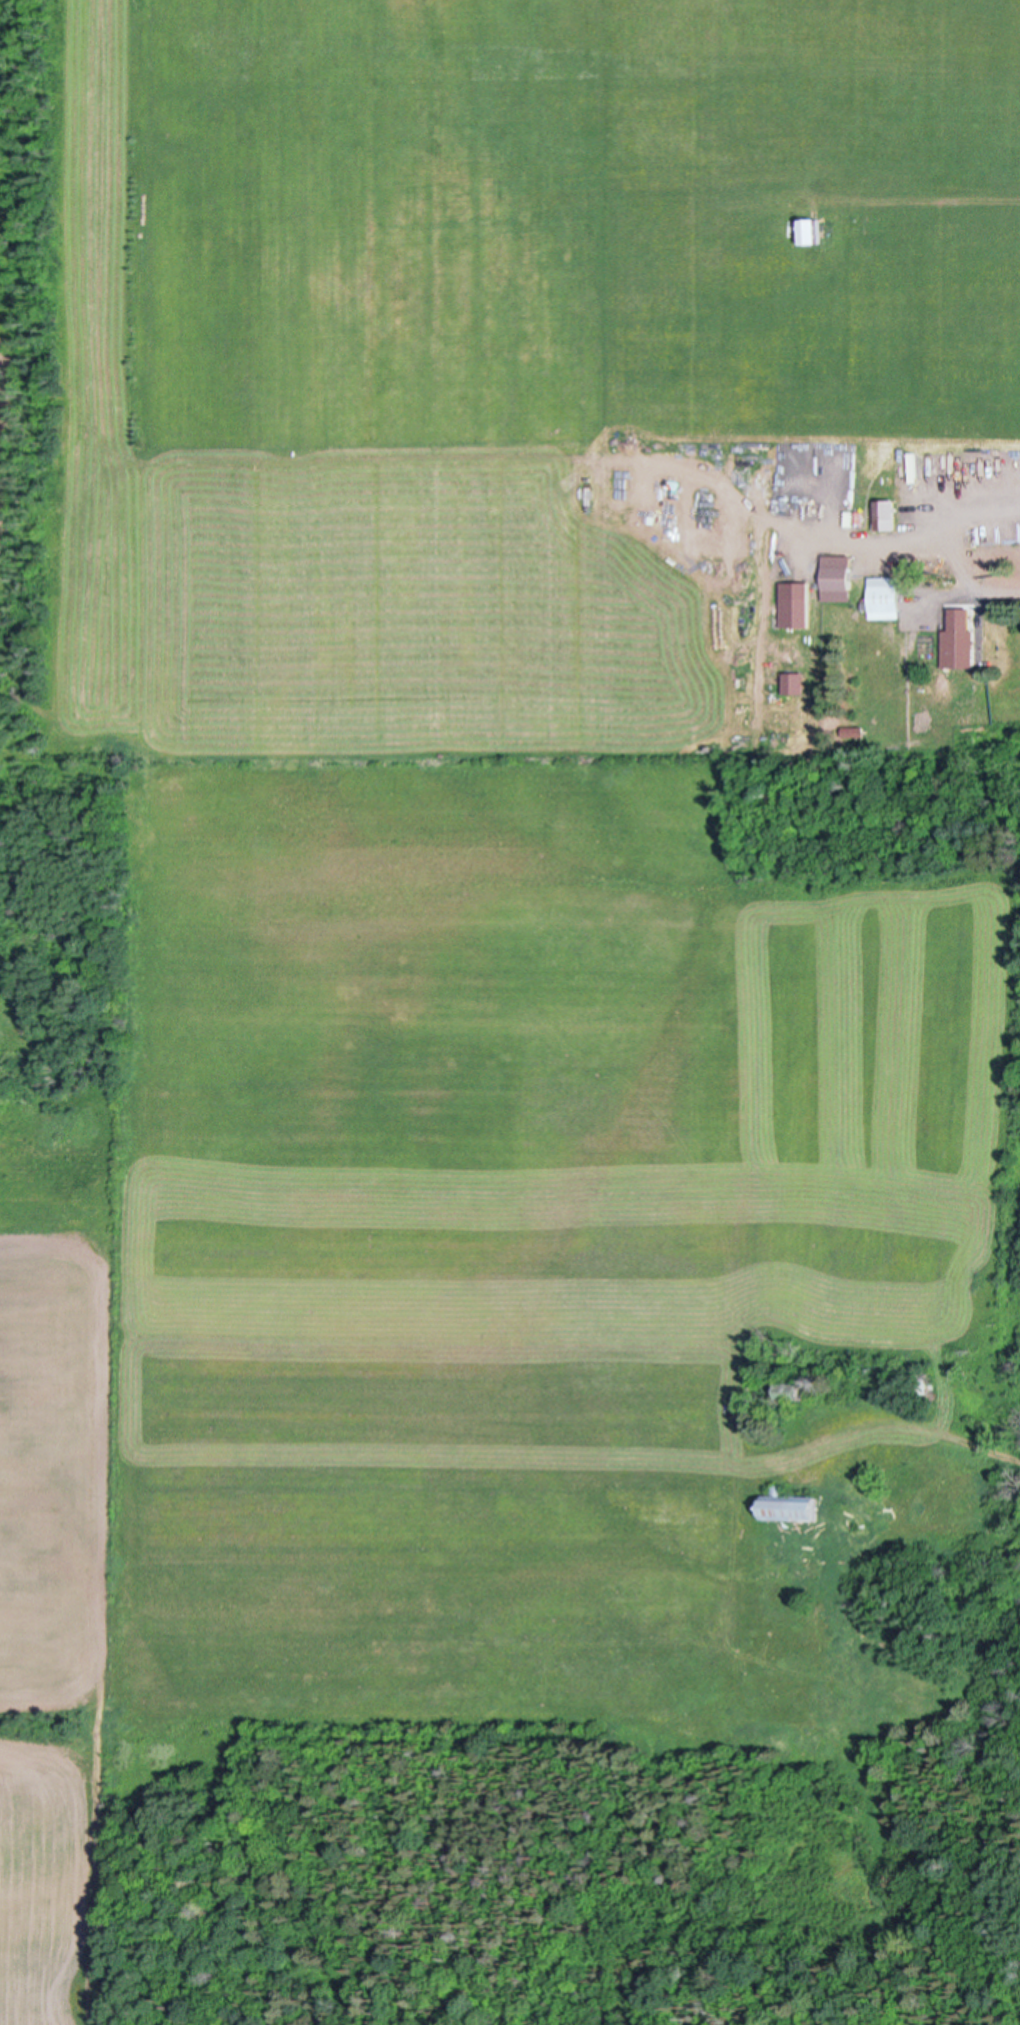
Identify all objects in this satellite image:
road: (929, 206)
building: (809, 228)
building: (884, 508)
road: (949, 552)
building: (836, 577)
building: (883, 596)
building: (794, 602)
building: (960, 647)
building: (794, 681)
building: (853, 729)
park: (59, 1369)
building: (844, 1381)
building: (918, 1384)
building: (790, 1391)
building: (788, 1506)

